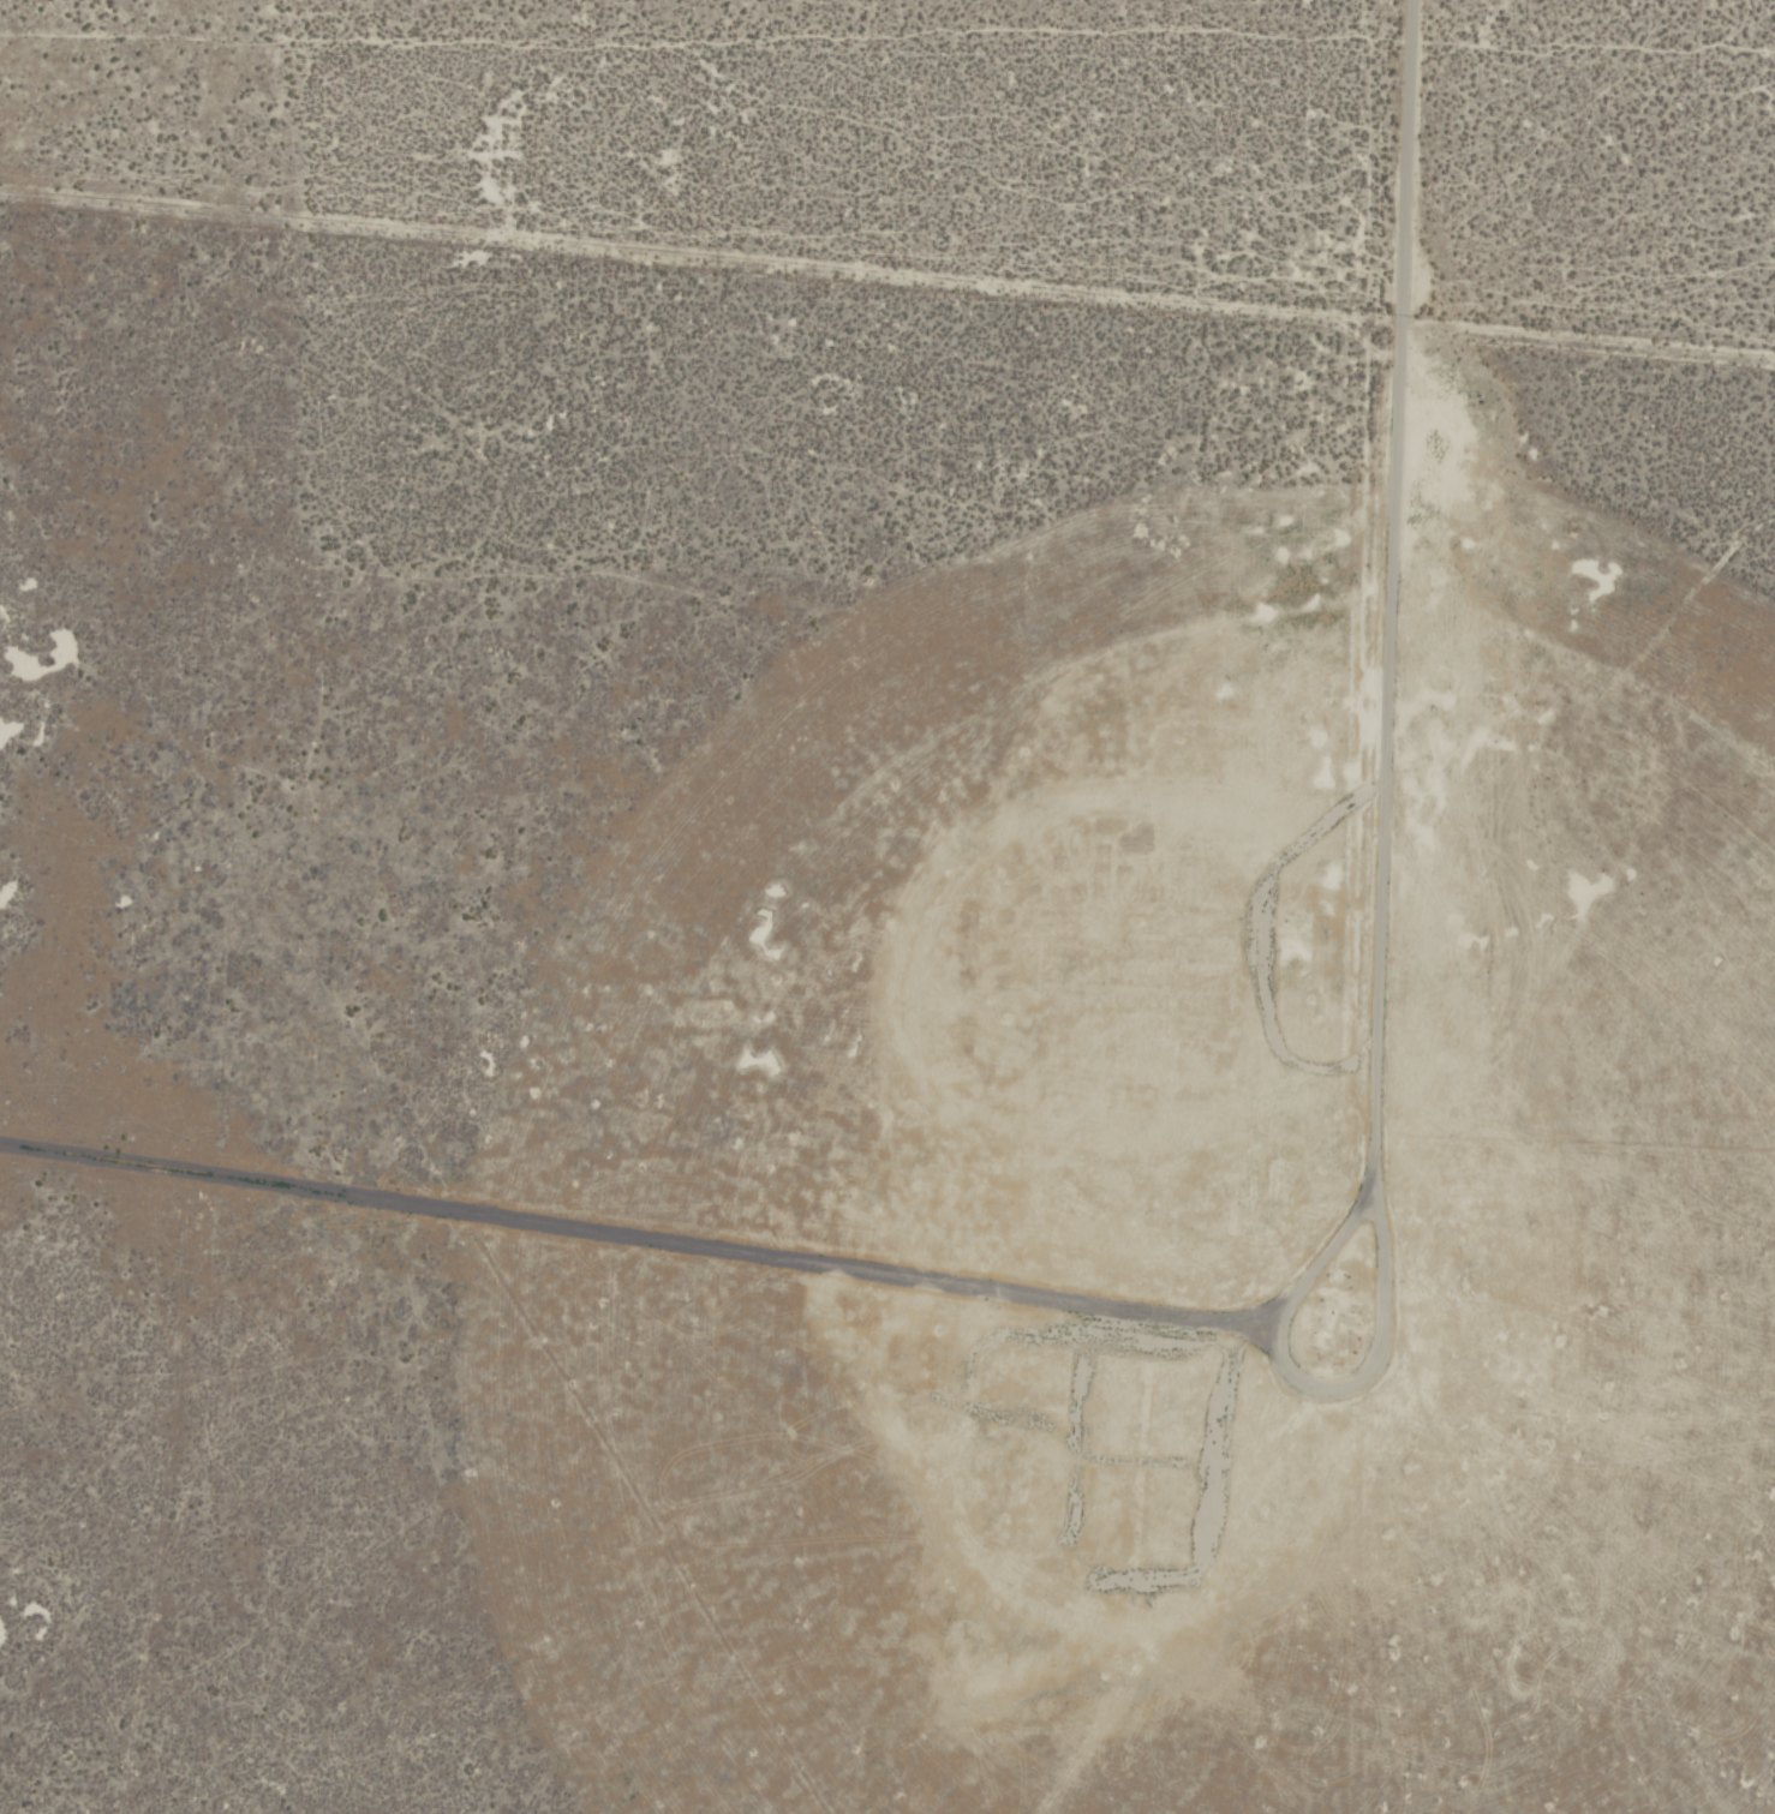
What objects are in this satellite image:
airport: (969, 152)

